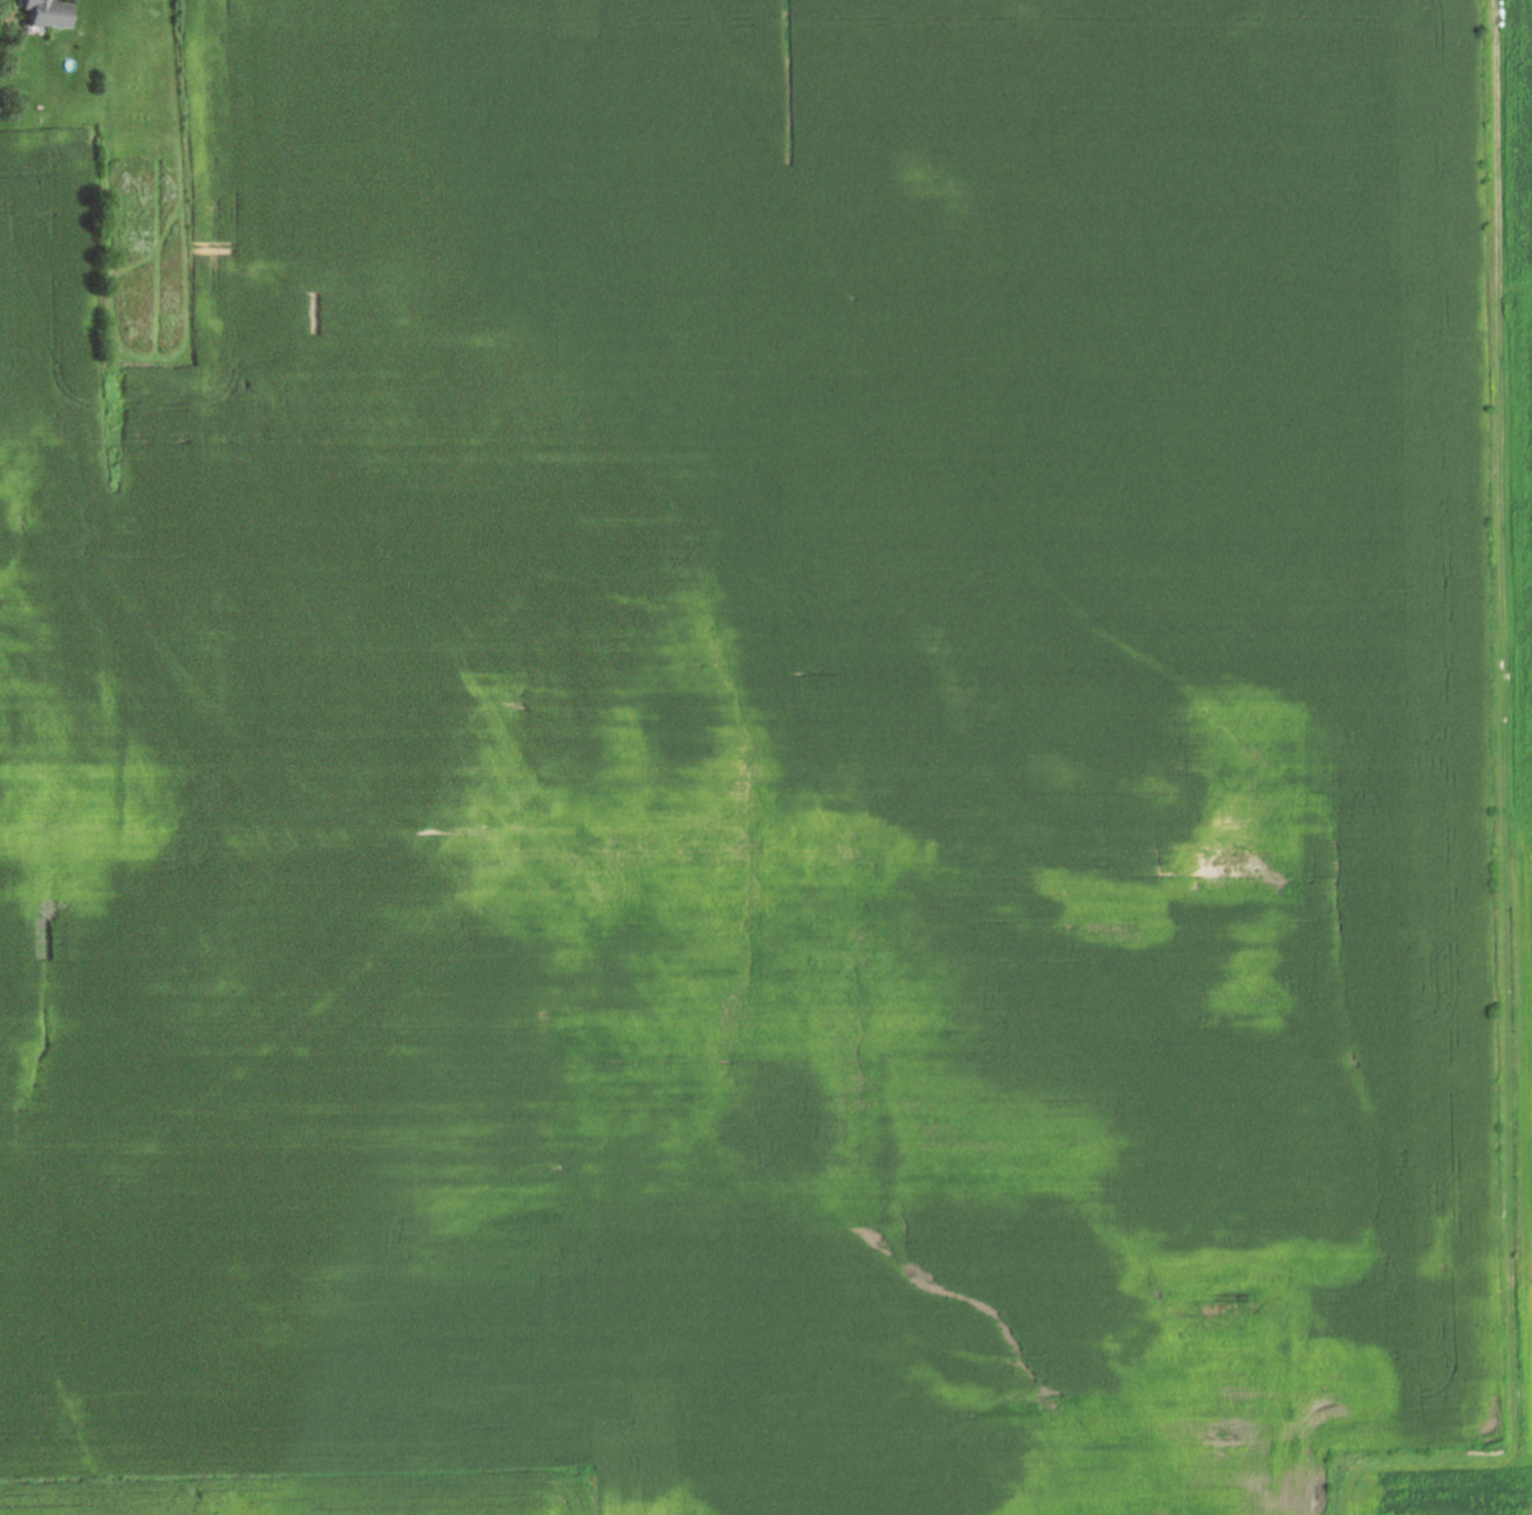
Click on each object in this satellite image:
building: (48, 12)
road: (1504, 726)
road: (1483, 809)

